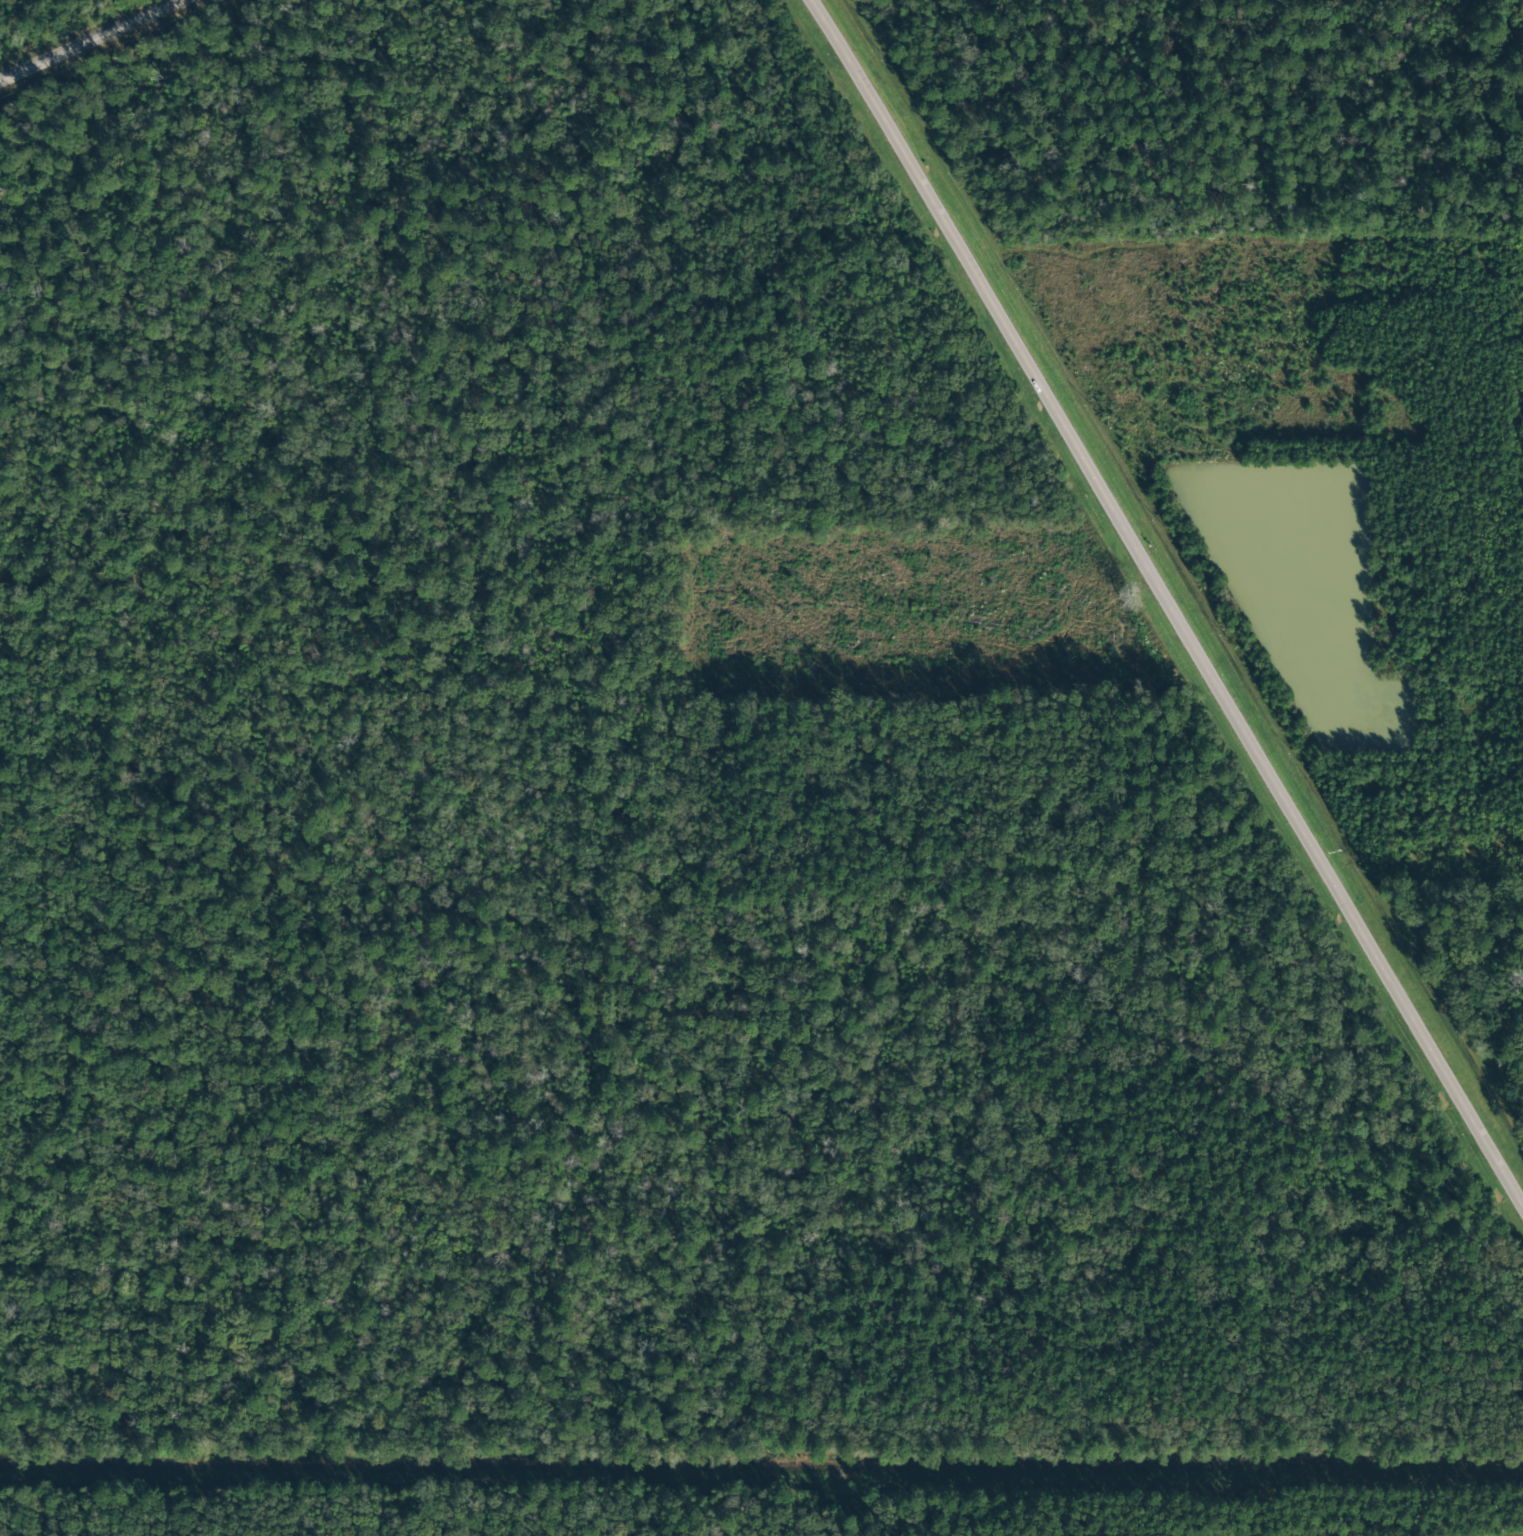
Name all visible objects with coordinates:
road: (85, 38)
road: (1167, 601)

